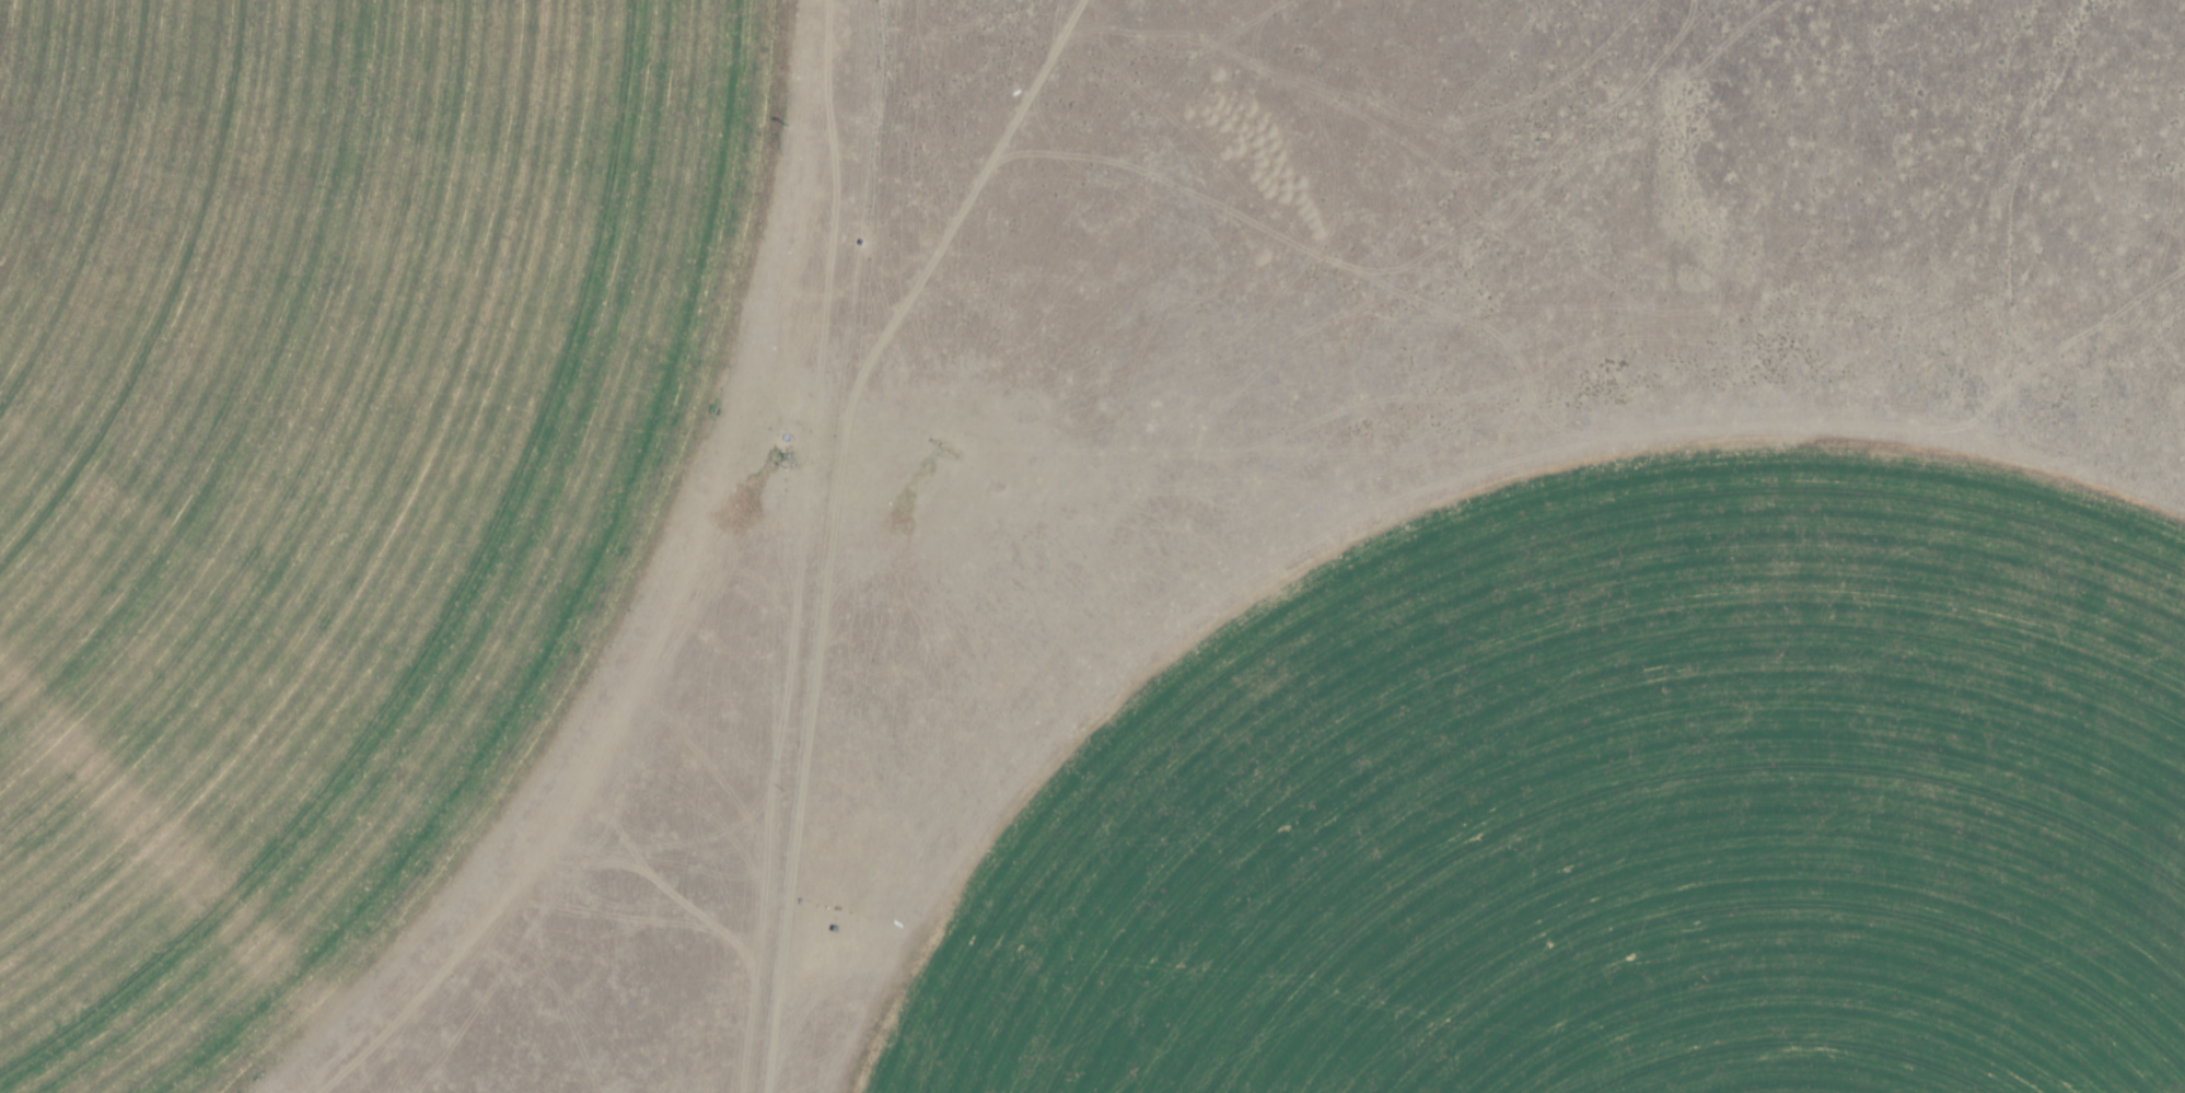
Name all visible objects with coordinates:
crop: (329, 466)
road: (820, 546)

